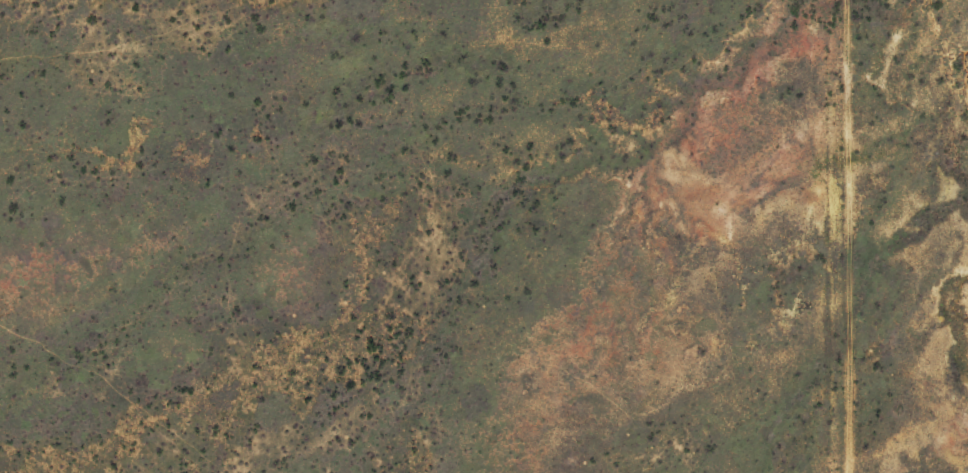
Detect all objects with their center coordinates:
road: (812, 236)

